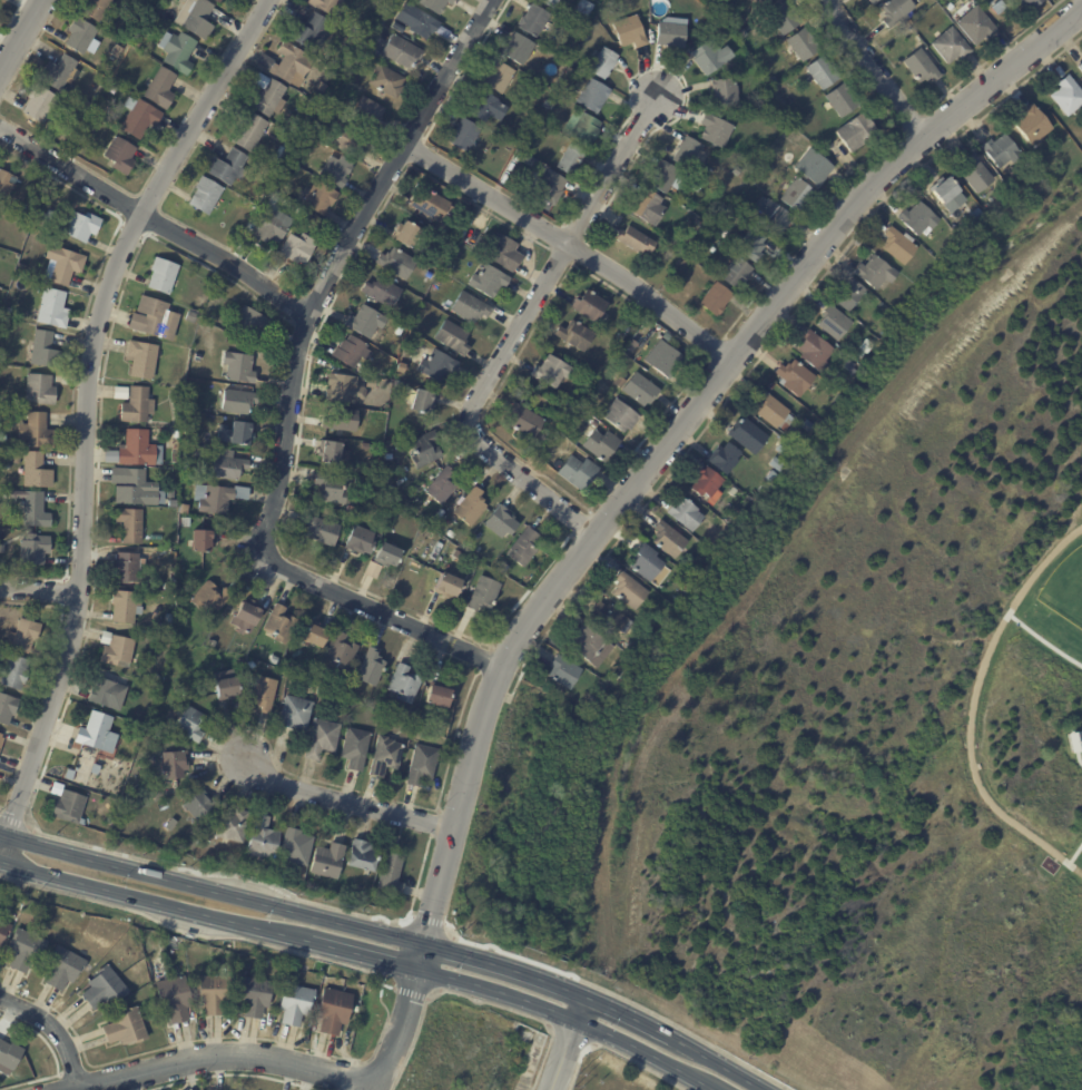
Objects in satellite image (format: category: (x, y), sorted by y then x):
building: (218, 1)
building: (872, 1)
building: (763, 2)
building: (550, 3)
building: (435, 4)
building: (1029, 4)
building: (326, 6)
building: (97, 9)
building: (897, 12)
building: (736, 19)
building: (785, 19)
building: (198, 20)
building: (533, 21)
building: (420, 22)
building: (977, 26)
building: (917, 27)
building: (399, 30)
road: (19, 32)
building: (312, 32)
building: (630, 32)
building: (911, 32)
building: (671, 33)
building: (80, 37)
building: (137, 45)
building: (350, 45)
building: (804, 45)
building: (951, 46)
building: (519, 49)
building: (750, 50)
building: (116, 51)
building: (178, 51)
building: (402, 52)
building: (375, 55)
building: (710, 57)
building: (603, 63)
building: (287, 65)
building: (1080, 67)
road: (873, 68)
building: (922, 69)
building: (570, 72)
building: (822, 72)
building: (59, 73)
building: (500, 78)
building: (387, 81)
building: (775, 81)
building: (322, 87)
building: (160, 89)
building: (725, 94)
building: (94, 96)
building: (593, 96)
building: (1068, 96)
building: (267, 97)
building: (843, 100)
building: (39, 105)
building: (549, 106)
building: (486, 107)
building: (543, 111)
building: (368, 114)
building: (139, 118)
building: (1032, 124)
building: (249, 131)
building: (589, 131)
building: (857, 131)
building: (716, 134)
building: (784, 134)
building: (464, 136)
building: (348, 139)
building: (1001, 150)
building: (784, 151)
building: (689, 154)
building: (120, 156)
building: (278, 158)
building: (570, 159)
building: (227, 168)
building: (815, 169)
building: (337, 171)
building: (737, 171)
building: (977, 174)
building: (1036, 174)
building: (665, 177)
building: (1017, 180)
building: (7, 183)
building: (697, 187)
building: (259, 188)
building: (551, 188)
building: (945, 192)
building: (796, 195)
building: (205, 196)
building: (319, 199)
building: (462, 203)
building: (432, 205)
building: (649, 208)
building: (977, 215)
building: (45, 216)
building: (774, 216)
building: (305, 218)
building: (921, 219)
road: (153, 220)
building: (81, 225)
building: (714, 227)
building: (272, 228)
building: (404, 234)
building: (629, 235)
building: (734, 244)
building: (901, 245)
road: (574, 247)
building: (757, 247)
building: (297, 251)
building: (504, 252)
building: (396, 263)
building: (65, 264)
building: (20, 268)
building: (736, 273)
building: (876, 273)
building: (163, 275)
building: (429, 275)
building: (490, 279)
building: (383, 292)
building: (849, 294)
building: (716, 302)
building: (590, 305)
building: (471, 307)
building: (52, 308)
building: (886, 312)
building: (0, 314)
building: (190, 316)
building: (155, 318)
building: (252, 321)
building: (366, 322)
building: (834, 322)
building: (626, 328)
building: (399, 331)
road: (515, 331)
building: (577, 335)
building: (453, 336)
building: (621, 336)
building: (667, 336)
building: (631, 342)
building: (865, 347)
building: (45, 350)
building: (814, 350)
building: (351, 353)
building: (142, 359)
building: (665, 360)
building: (437, 365)
building: (848, 365)
building: (239, 366)
building: (401, 367)
building: (550, 373)
building: (796, 377)
building: (619, 383)
road: (289, 385)
building: (771, 386)
building: (341, 387)
building: (40, 389)
building: (641, 390)
building: (368, 397)
building: (238, 401)
building: (424, 401)
building: (138, 405)
building: (188, 405)
road: (86, 409)
building: (774, 411)
building: (557, 412)
building: (620, 415)
building: (523, 419)
building: (341, 420)
building: (592, 424)
building: (806, 425)
road: (677, 429)
building: (37, 431)
building: (187, 431)
building: (237, 433)
building: (177, 434)
building: (748, 435)
building: (2, 438)
building: (397, 444)
building: (601, 444)
building: (569, 446)
building: (426, 449)
building: (785, 449)
building: (136, 450)
building: (334, 452)
building: (17, 459)
building: (725, 459)
building: (228, 464)
building: (778, 464)
building: (36, 471)
building: (579, 472)
building: (770, 475)
building: (708, 483)
building: (443, 485)
building: (135, 488)
building: (332, 488)
building: (761, 490)
building: (731, 492)
building: (218, 498)
building: (472, 505)
building: (32, 509)
building: (184, 509)
building: (326, 511)
building: (394, 513)
building: (748, 513)
building: (687, 514)
building: (423, 520)
building: (502, 522)
building: (131, 524)
building: (433, 524)
building: (322, 530)
building: (451, 533)
building: (669, 539)
building: (203, 540)
building: (361, 540)
building: (525, 546)
building: (1, 549)
building: (35, 550)
building: (445, 551)
building: (453, 553)
building: (386, 554)
building: (647, 562)
building: (128, 567)
park: (1064, 583)
building: (446, 585)
building: (686, 586)
building: (168, 587)
road: (38, 589)
building: (630, 590)
building: (484, 593)
building: (210, 598)
building: (125, 607)
building: (665, 609)
building: (246, 616)
building: (609, 621)
building: (281, 625)
building: (167, 628)
building: (314, 635)
building: (24, 636)
building: (213, 642)
building: (587, 642)
building: (116, 649)
building: (341, 651)
building: (274, 659)
building: (252, 665)
building: (372, 668)
building: (564, 671)
building: (16, 672)
building: (157, 677)
building: (405, 684)
building: (225, 685)
building: (340, 688)
building: (104, 693)
building: (265, 694)
building: (440, 697)
building: (593, 699)
building: (7, 708)
building: (296, 713)
building: (412, 717)
building: (420, 720)
building: (190, 723)
park: (846, 724)
building: (96, 734)
building: (1, 737)
building: (323, 738)
building: (356, 748)
building: (386, 756)
building: (175, 764)
building: (423, 765)
building: (95, 769)
building: (69, 775)
building: (55, 788)
road: (346, 801)
building: (197, 805)
building: (69, 807)
building: (110, 821)
building: (170, 825)
building: (232, 826)
building: (262, 838)
building: (296, 847)
building: (362, 856)
building: (326, 861)
building: (392, 873)
road: (210, 891)
building: (4, 930)
building: (26, 949)
road: (362, 956)
building: (219, 964)
building: (63, 968)
building: (327, 982)
building: (105, 986)
building: (214, 992)
building: (255, 995)
building: (175, 998)
building: (295, 1002)
road: (598, 1002)
building: (334, 1010)
road: (397, 1017)
building: (126, 1027)
road: (53, 1031)
road: (565, 1042)
road: (224, 1055)
building: (8, 1057)

